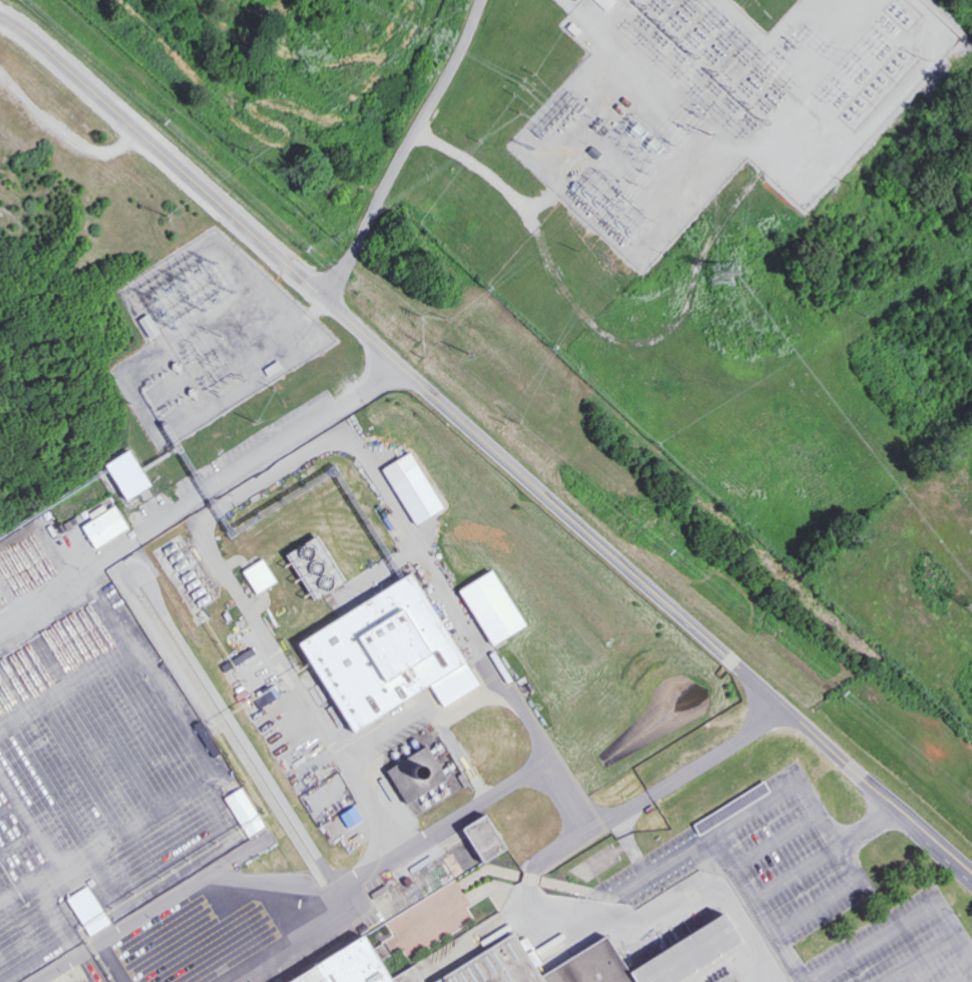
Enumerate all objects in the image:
building: (610, 4)
railway: (33, 83)
power substation: (725, 107)
road: (404, 149)
building: (155, 329)
power substation: (210, 334)
road: (487, 443)
road: (270, 449)
building: (122, 474)
building: (409, 487)
railway: (380, 496)
building: (102, 526)
building: (304, 565)
building: (256, 575)
building: (487, 606)
building: (381, 654)
building: (412, 774)
road: (772, 798)
building: (241, 811)
road: (774, 836)
road: (824, 850)
parking lot: (826, 894)
road: (611, 896)
building: (85, 910)
road: (887, 934)
road: (930, 950)
building: (602, 960)
building: (357, 966)
road: (962, 975)

